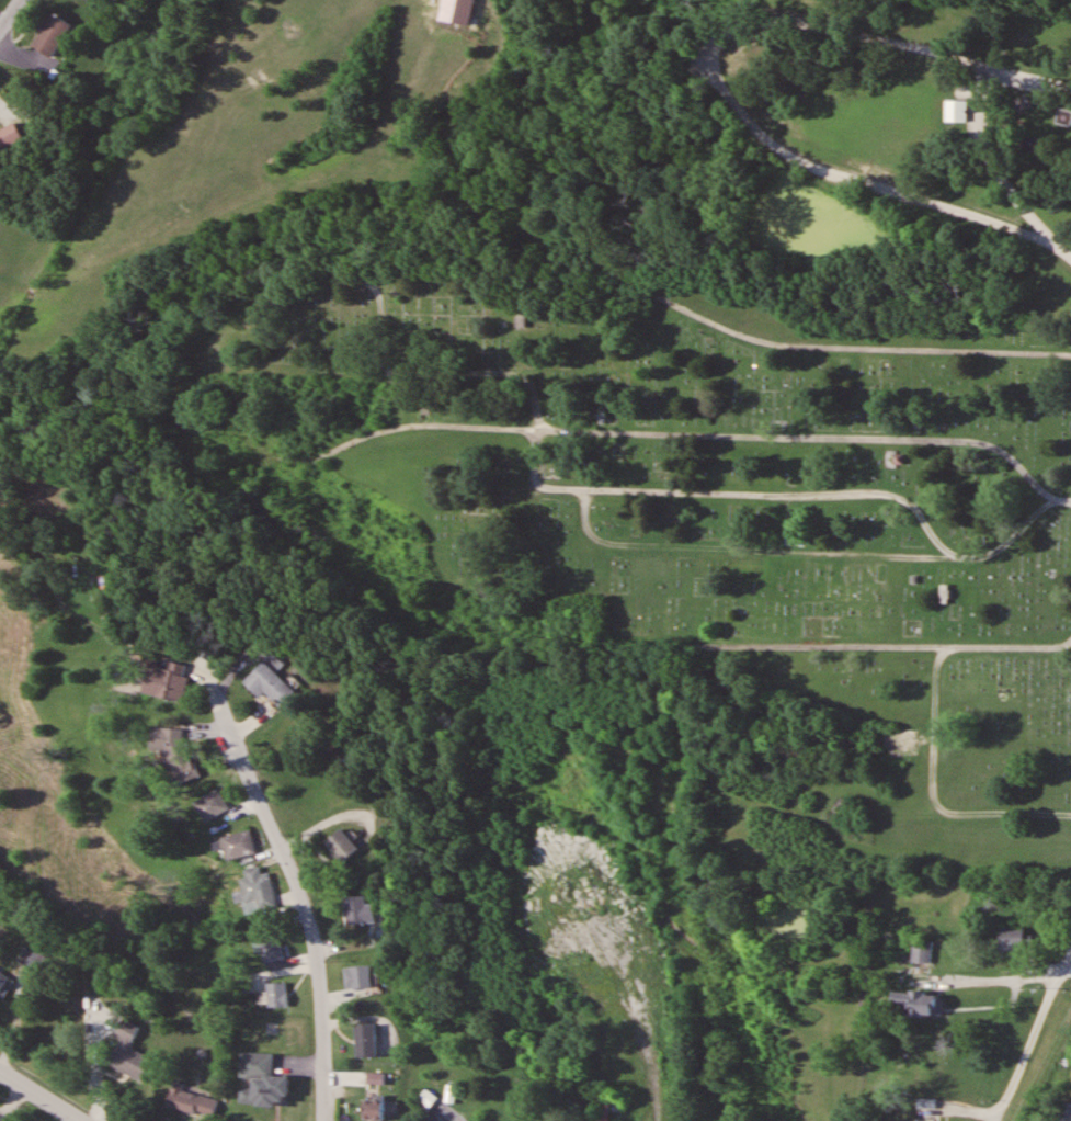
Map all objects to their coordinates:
building: (464, 11)
road: (10, 13)
building: (50, 34)
road: (719, 79)
building: (955, 111)
building: (9, 137)
park: (857, 141)
road: (842, 349)
road: (664, 433)
road: (535, 477)
park: (673, 514)
road: (742, 547)
road: (620, 638)
building: (164, 679)
building: (272, 683)
building: (174, 750)
building: (212, 804)
building: (238, 845)
building: (342, 845)
building: (258, 891)
building: (360, 909)
road: (306, 919)
building: (1011, 938)
building: (913, 949)
building: (272, 951)
building: (33, 958)
road: (1068, 967)
building: (360, 975)
building: (4, 984)
building: (277, 994)
road: (1047, 997)
building: (918, 1003)
building: (366, 1040)
building: (127, 1052)
building: (262, 1079)
road: (38, 1097)
building: (191, 1100)
building: (373, 1109)
building: (927, 1120)

